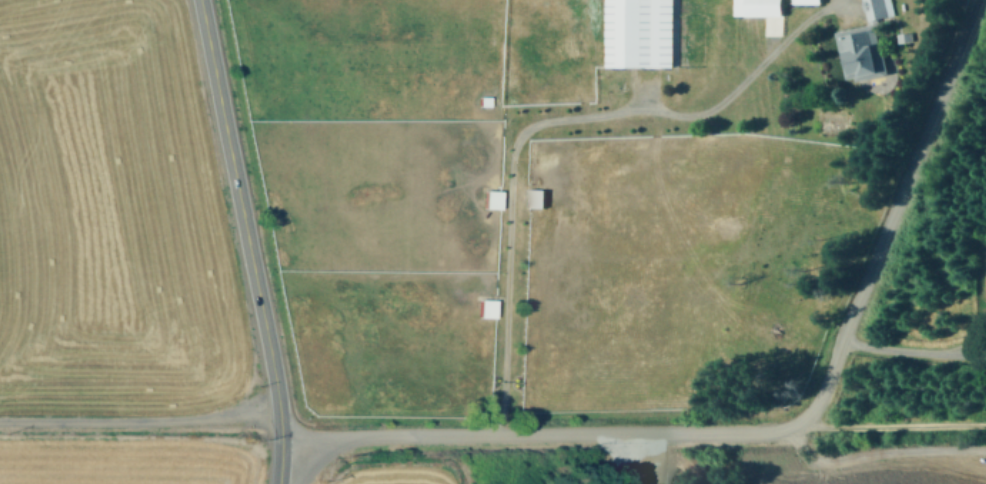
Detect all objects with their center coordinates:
building: (809, 1)
building: (759, 7)
building: (880, 9)
building: (641, 33)
building: (862, 52)
road: (545, 121)
building: (536, 197)
building: (492, 198)
crop: (557, 221)
road: (246, 241)
crop: (115, 257)
building: (487, 307)
road: (913, 350)
road: (139, 421)
road: (887, 425)
road: (770, 432)
road: (793, 448)
road: (898, 452)

